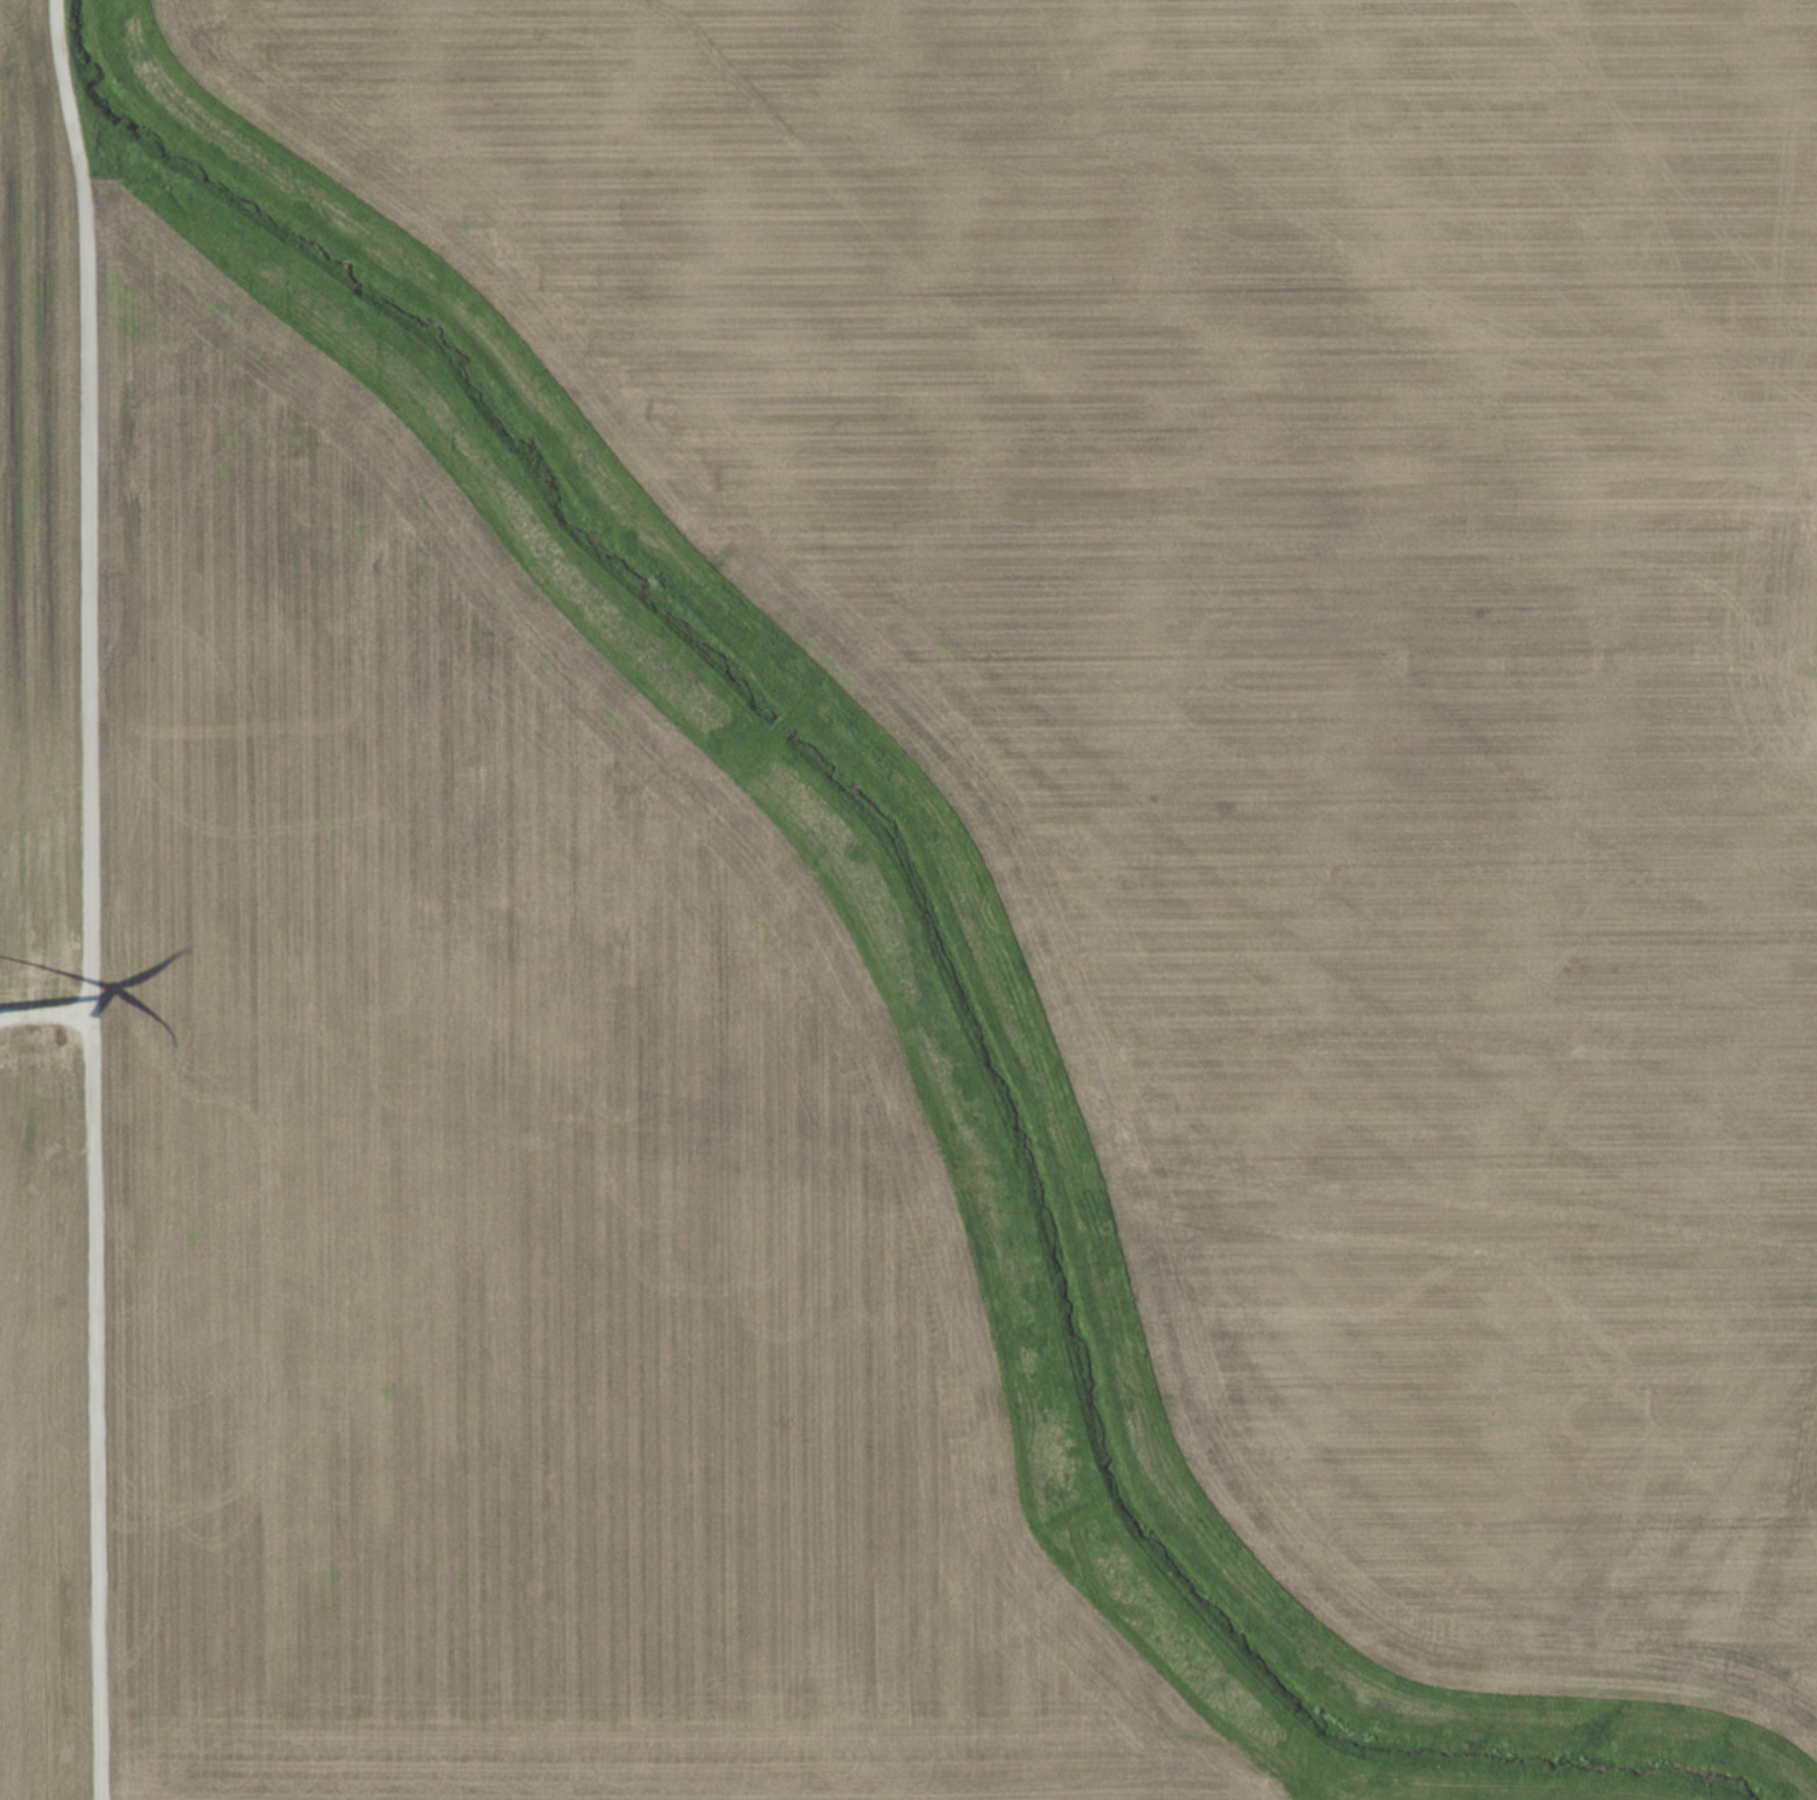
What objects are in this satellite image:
road: (93, 898)

